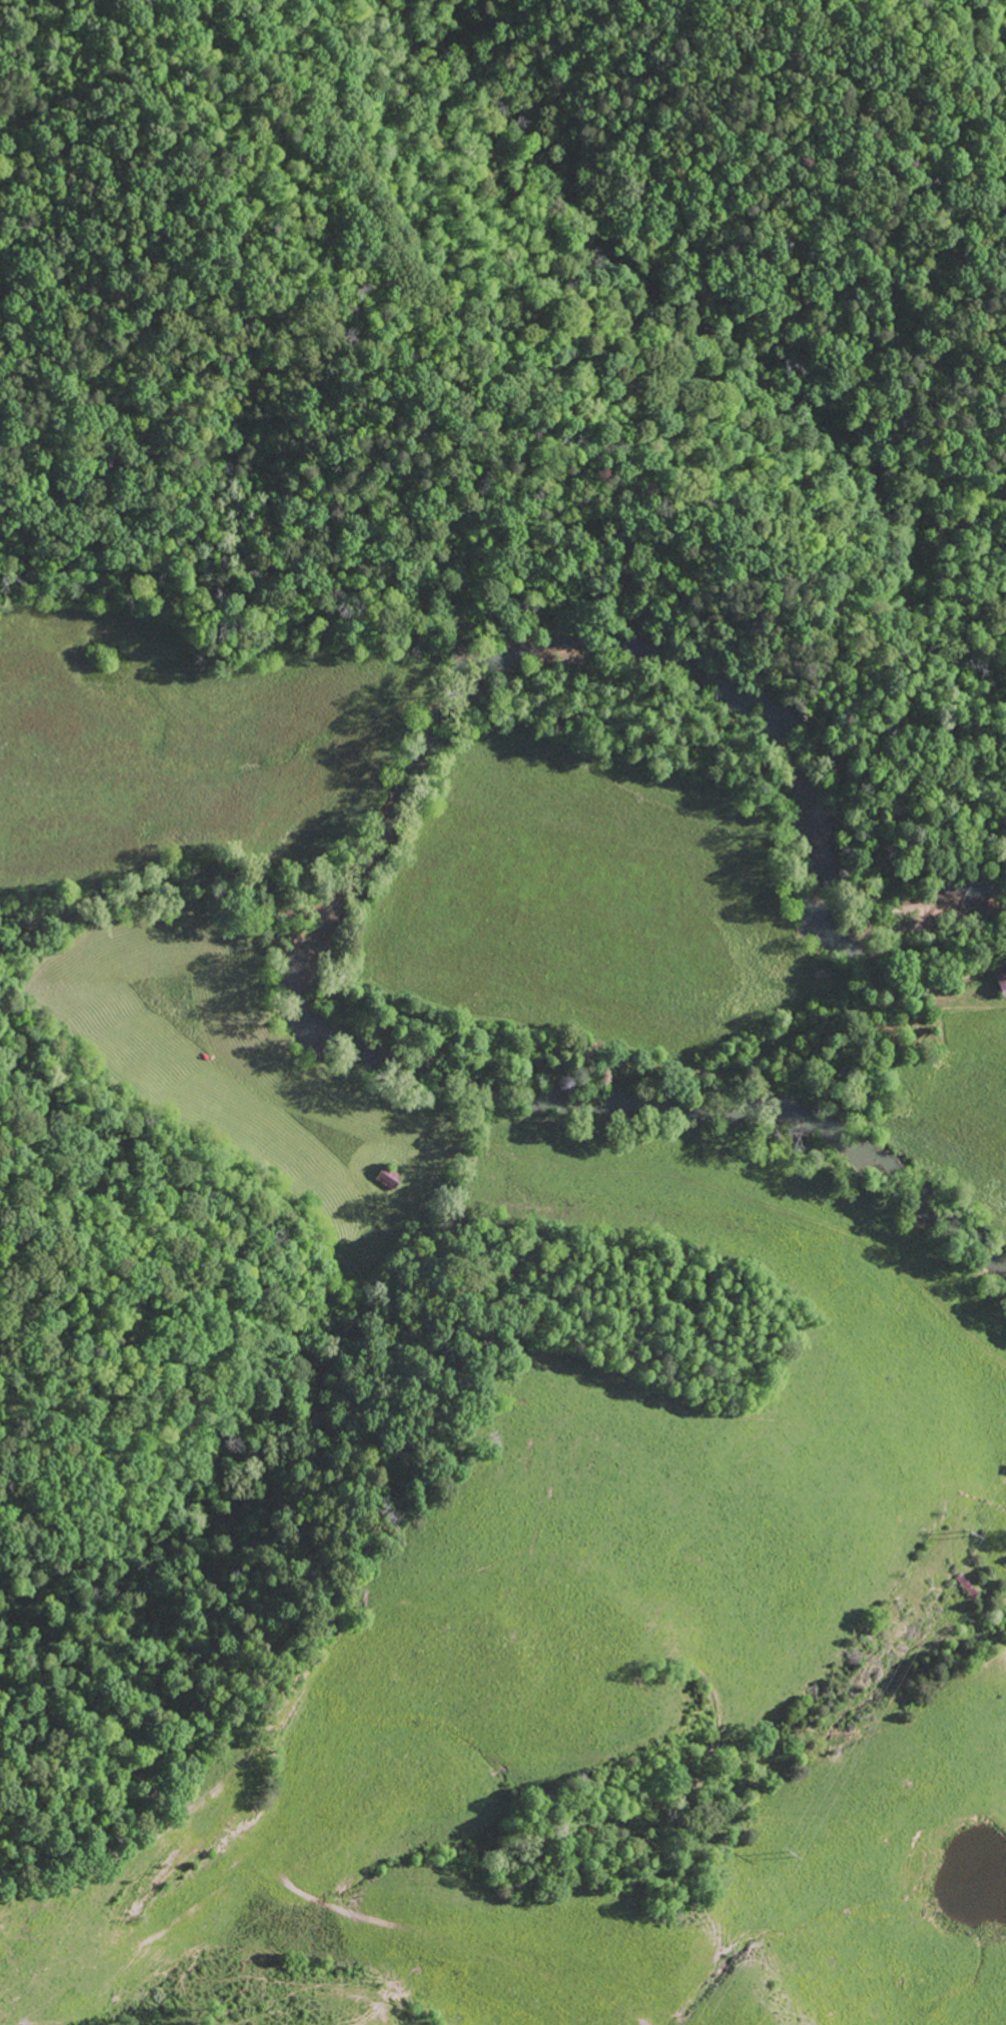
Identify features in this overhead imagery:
road: (973, 1042)
power tower: (793, 1855)

